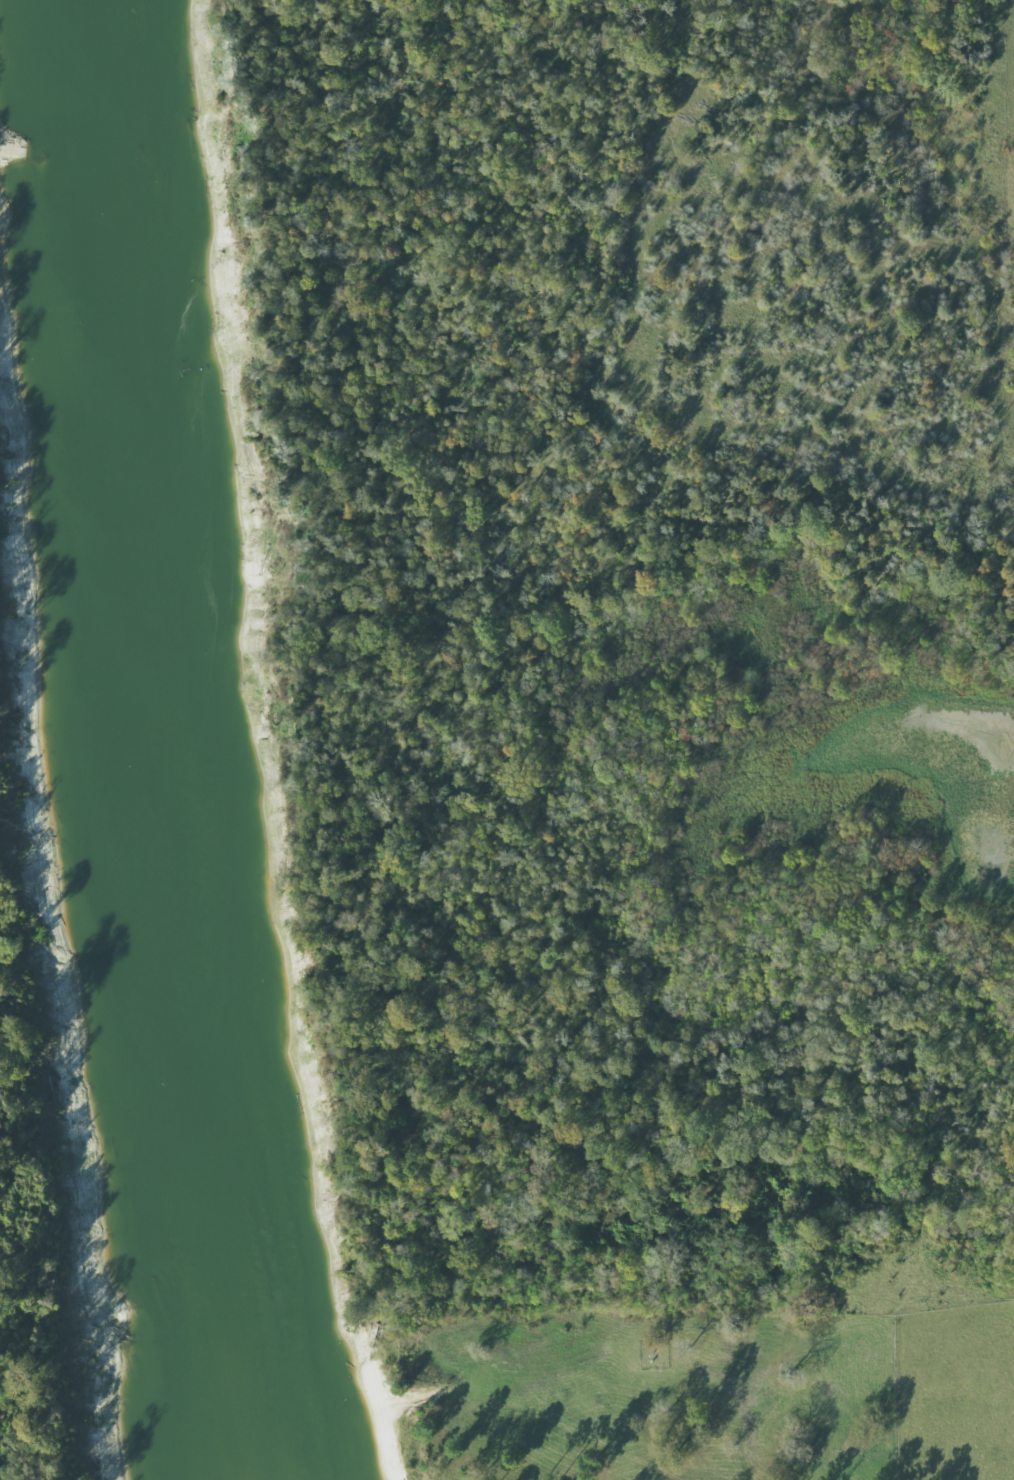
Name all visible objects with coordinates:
river: (168, 740)

